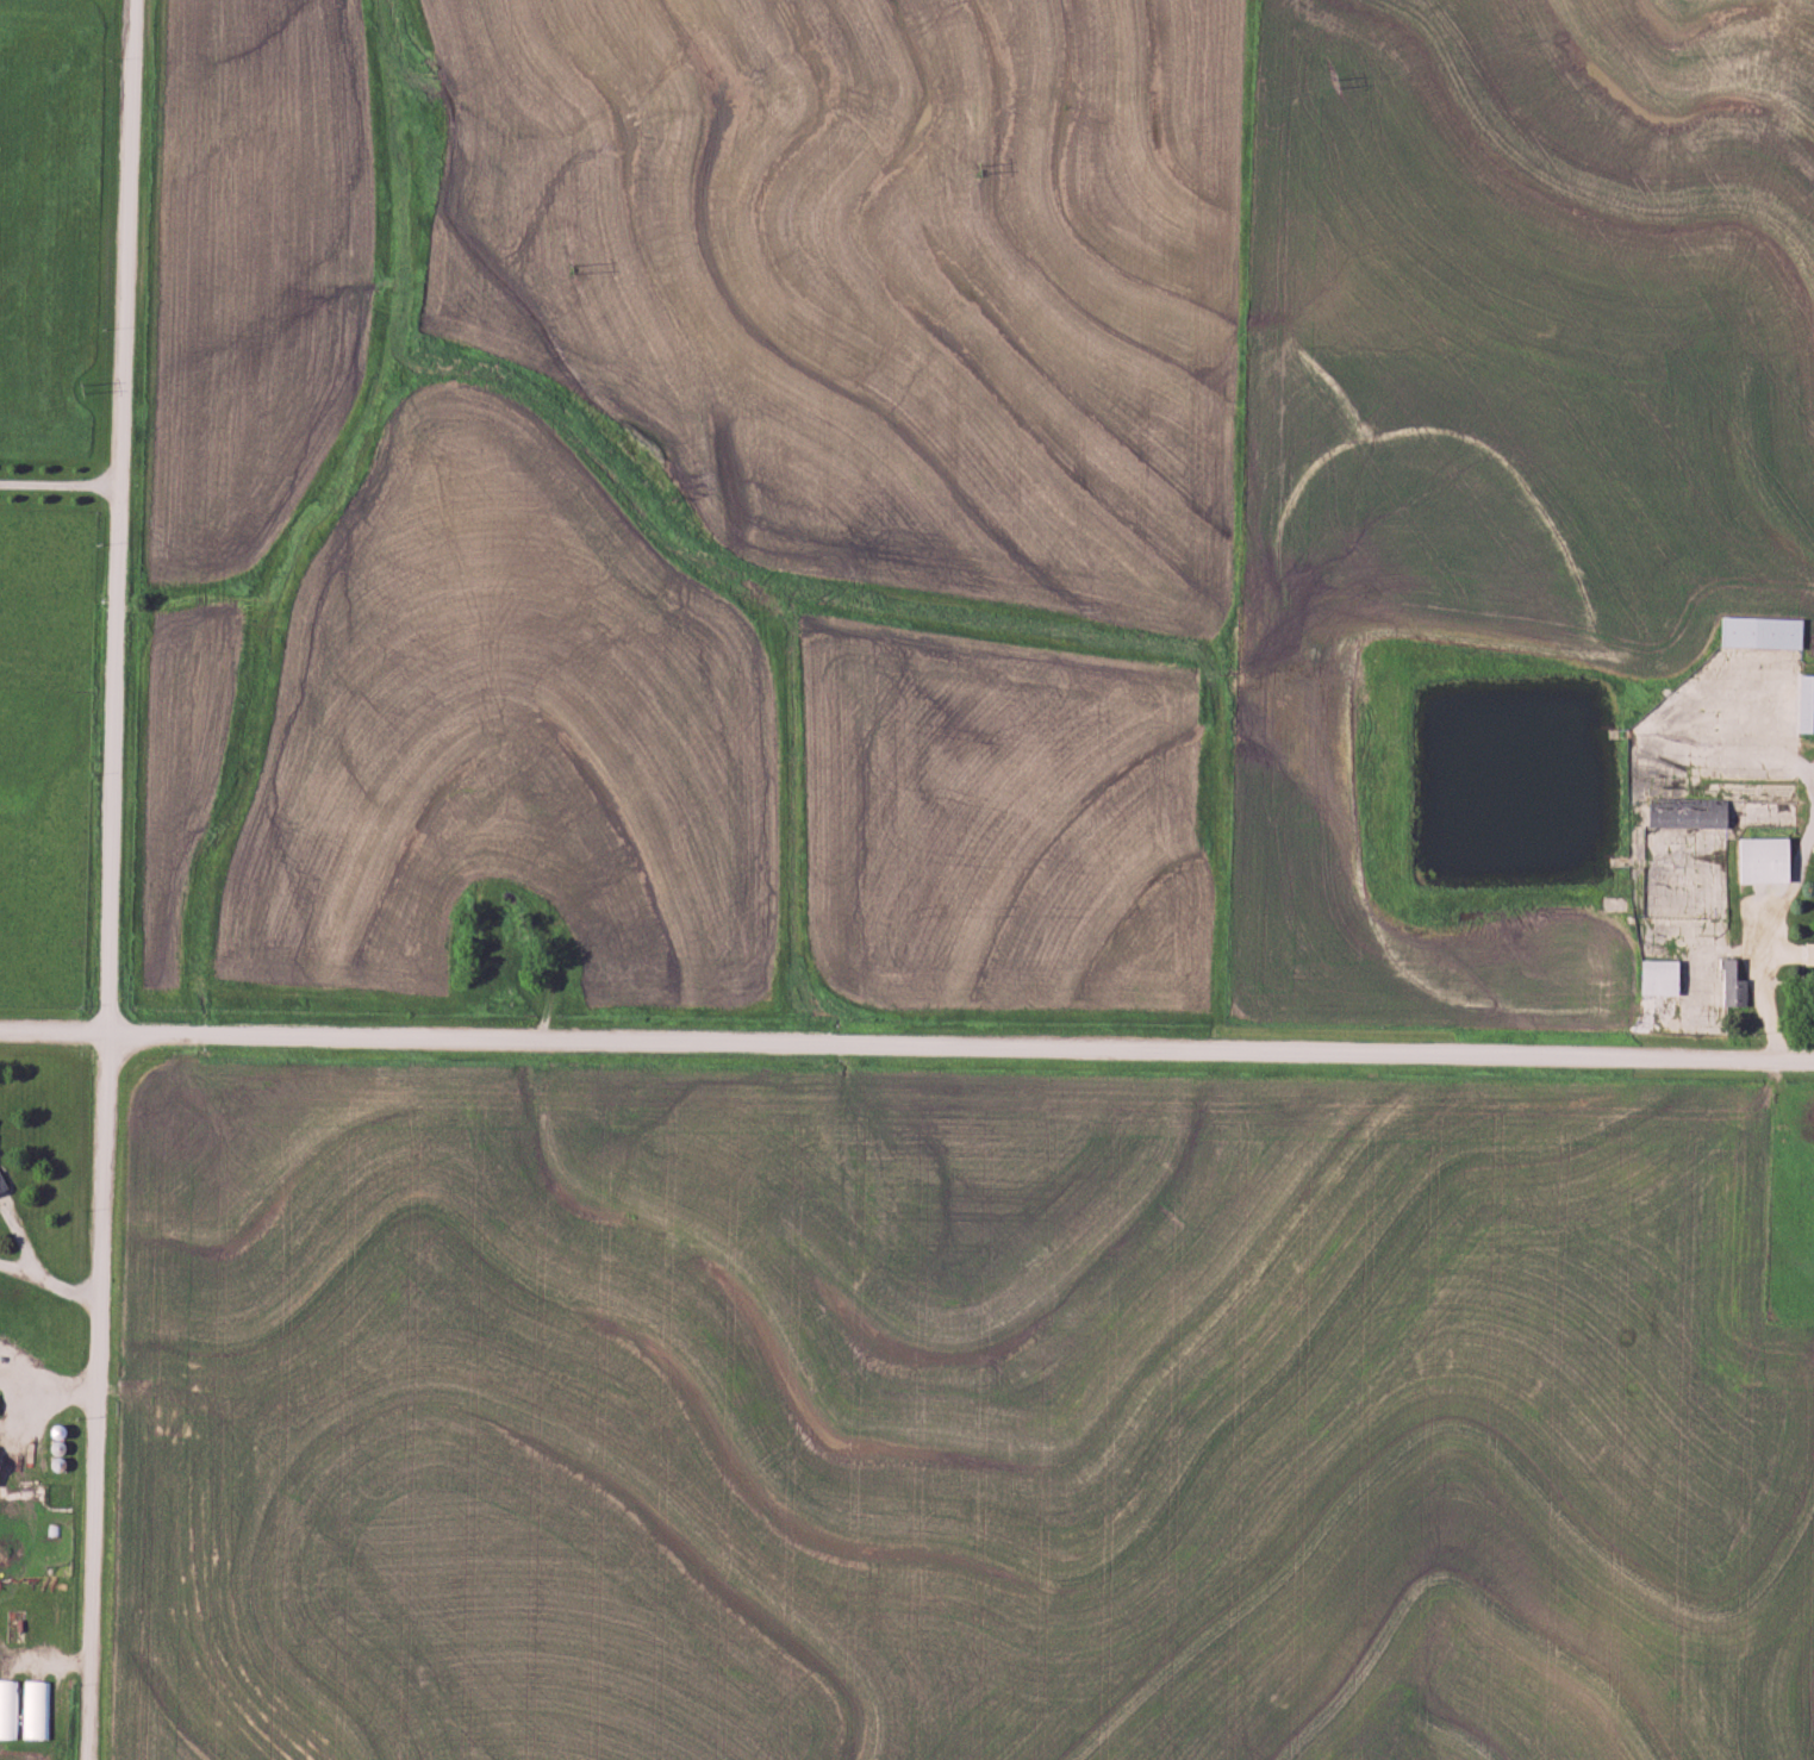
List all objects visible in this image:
power tower: (1333, 82)
power tower: (975, 170)
power tower: (568, 268)
power tower: (80, 389)
road: (64, 482)
building: (1764, 632)
building: (1808, 704)
building: (1769, 861)
road: (117, 880)
building: (591, 881)
building: (1809, 956)
building: (1664, 978)
building: (1733, 984)
road: (56, 1038)
road: (962, 1050)
building: (0, 1467)
building: (8, 1711)
building: (36, 1711)

